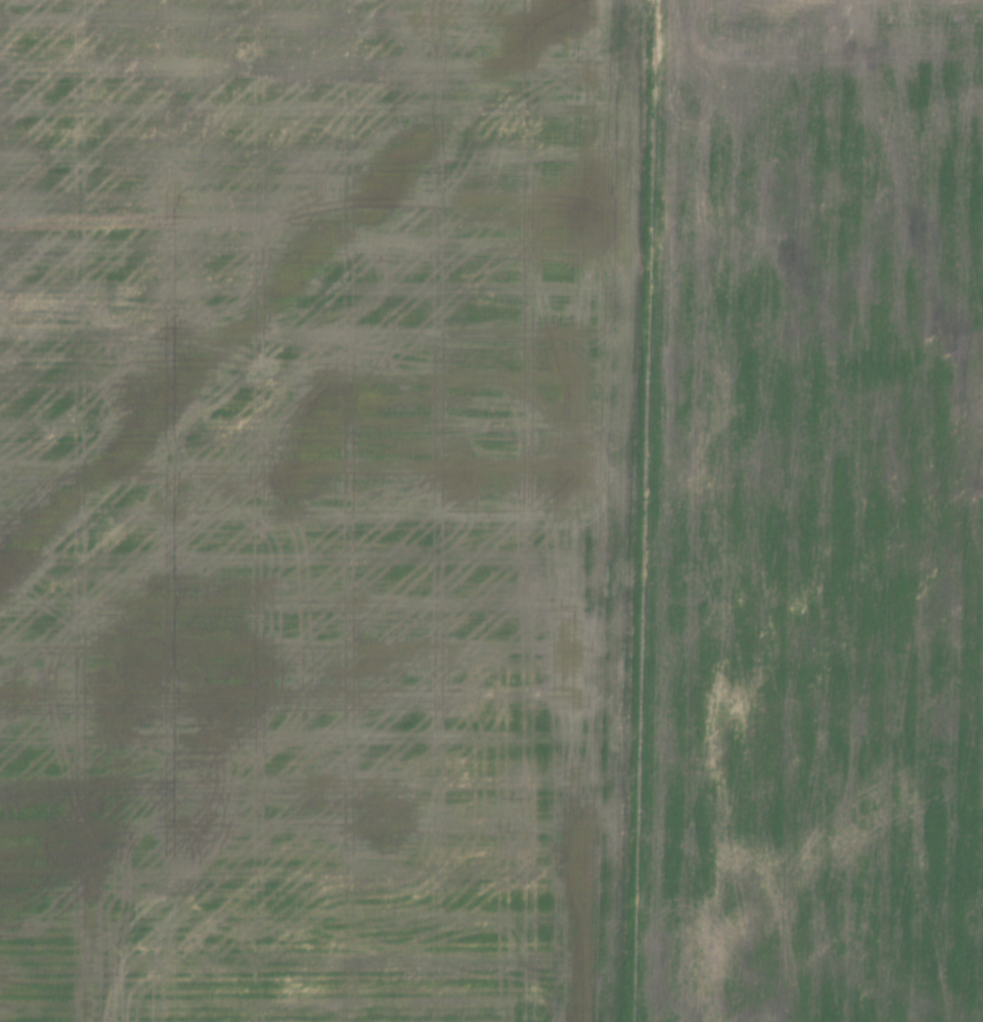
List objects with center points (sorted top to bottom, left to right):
crop: (491, 511)

